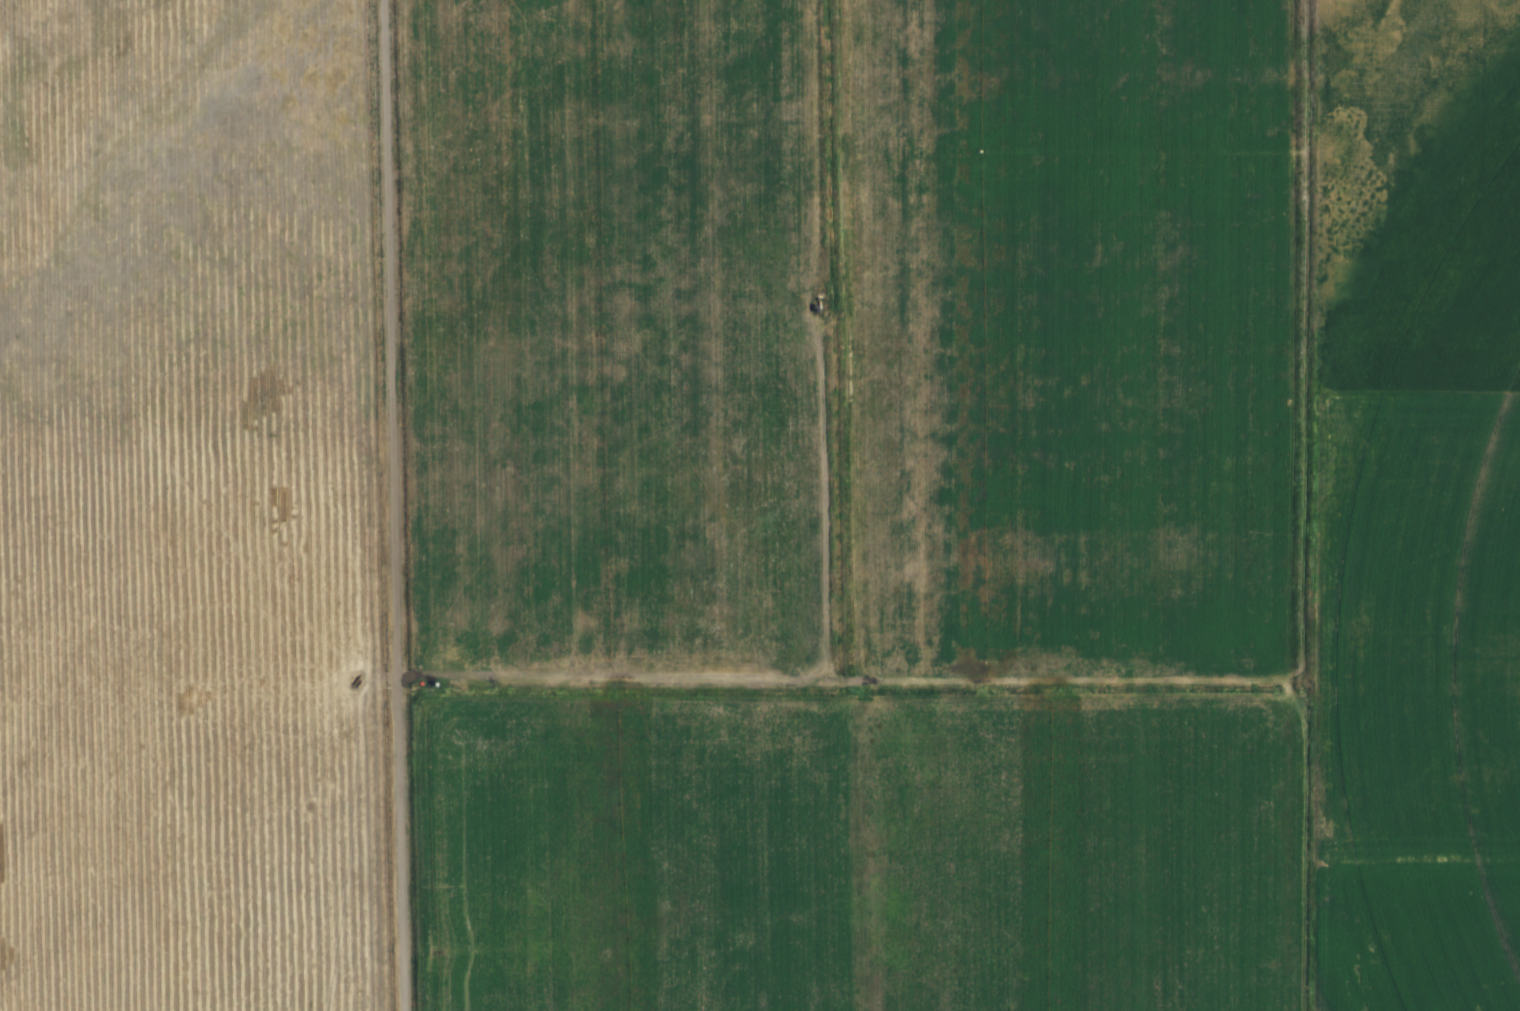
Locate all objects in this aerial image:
crop: (635, 345)
crop: (1094, 345)
road: (409, 505)
crop: (201, 510)
crop: (1435, 520)
crop: (876, 852)
crop: (1426, 937)

